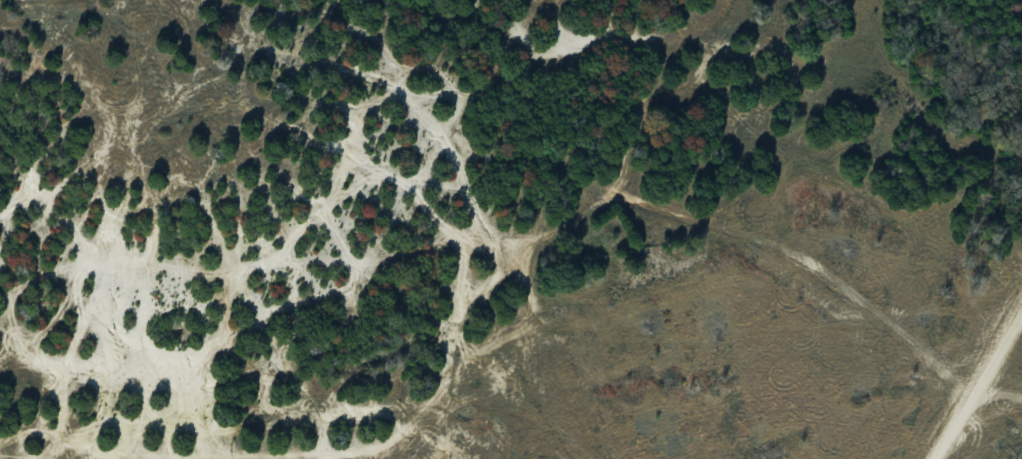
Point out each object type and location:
road: (977, 385)

